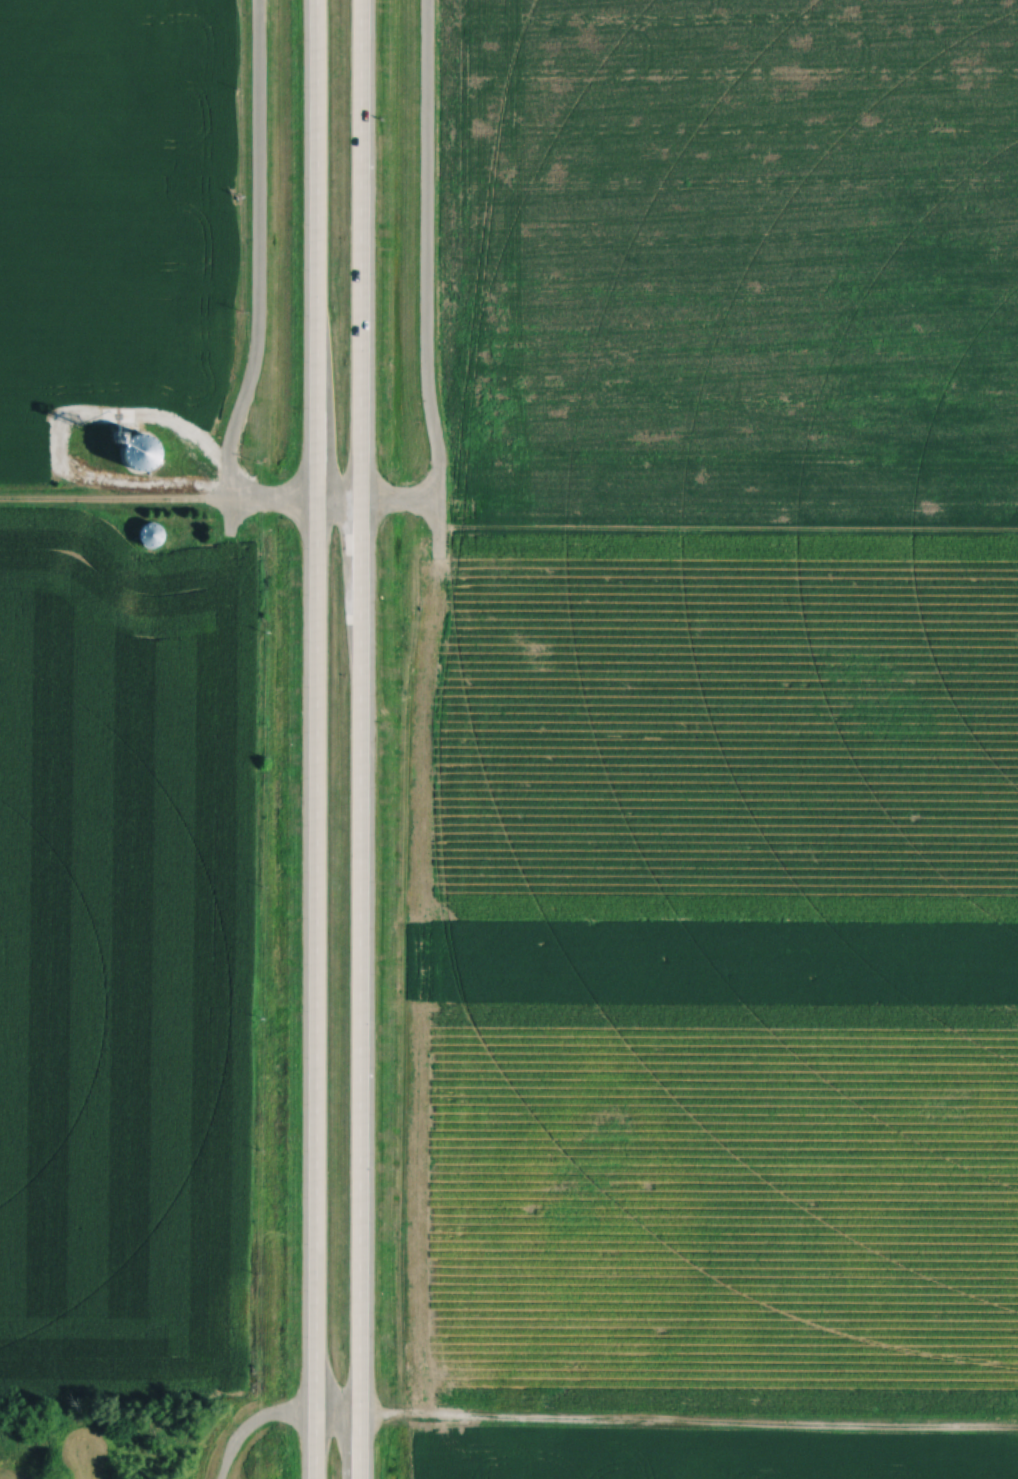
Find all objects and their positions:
road: (327, 499)
road: (117, 502)
building: (151, 534)
road: (310, 739)
road: (358, 739)
road: (273, 1417)

